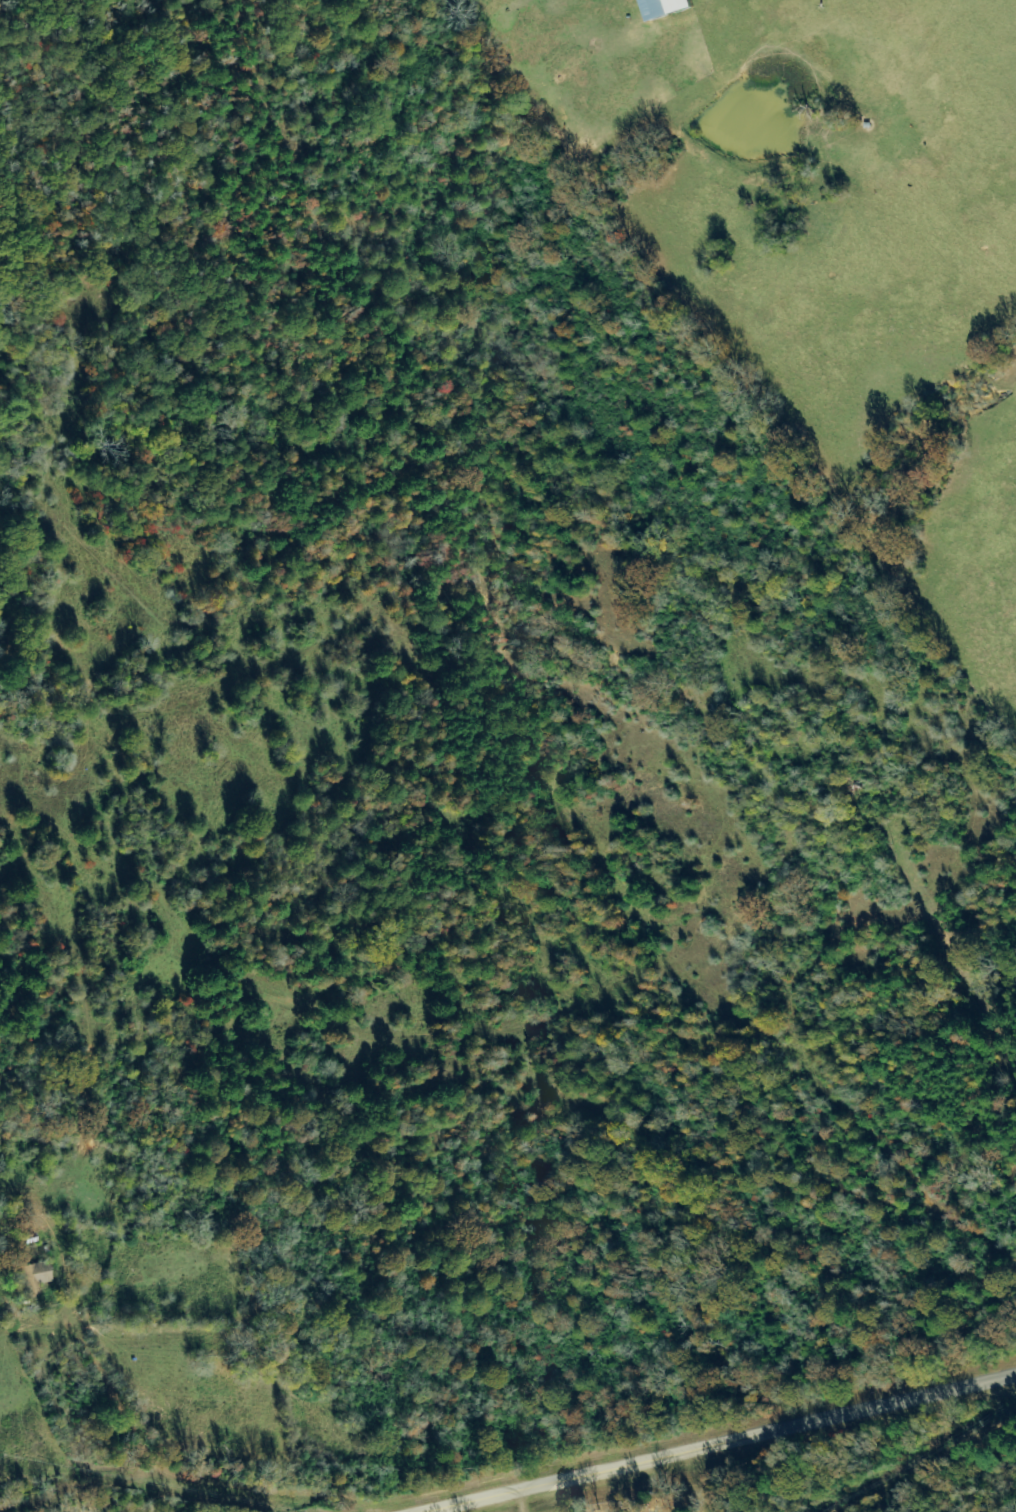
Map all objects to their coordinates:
building: (664, 7)
road: (522, 1191)
building: (36, 1274)
road: (719, 1444)
road: (163, 1464)
park: (674, 1489)

